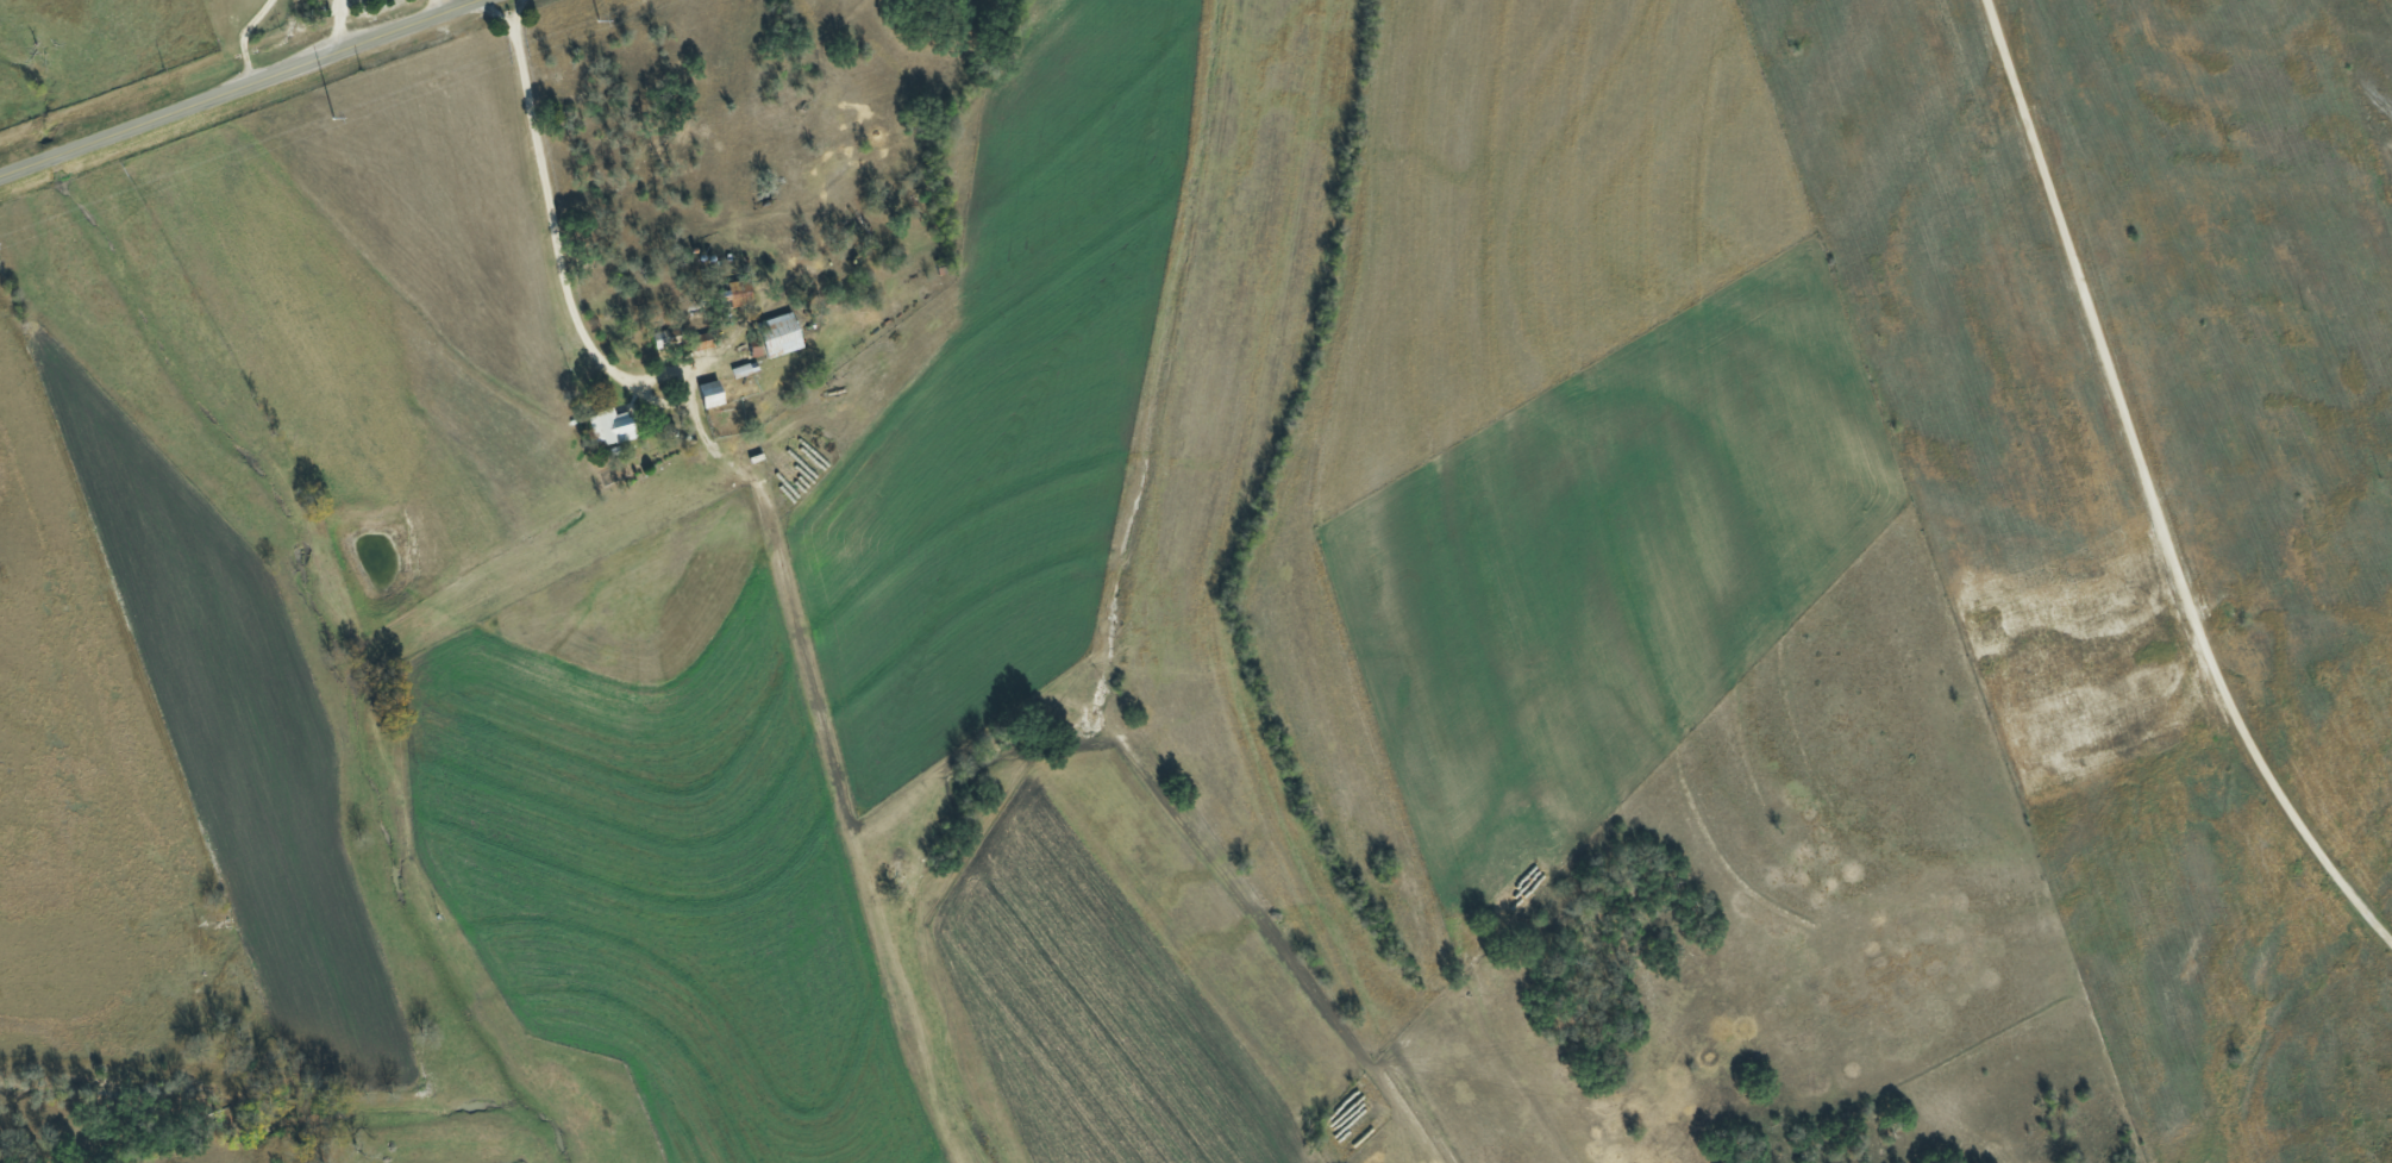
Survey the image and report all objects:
road: (433, 7)
road: (493, 14)
power tower: (595, 23)
road: (337, 25)
road: (239, 38)
road: (238, 88)
power tower: (330, 119)
road: (551, 210)
building: (783, 333)
building: (712, 394)
building: (614, 426)
road: (2155, 483)

